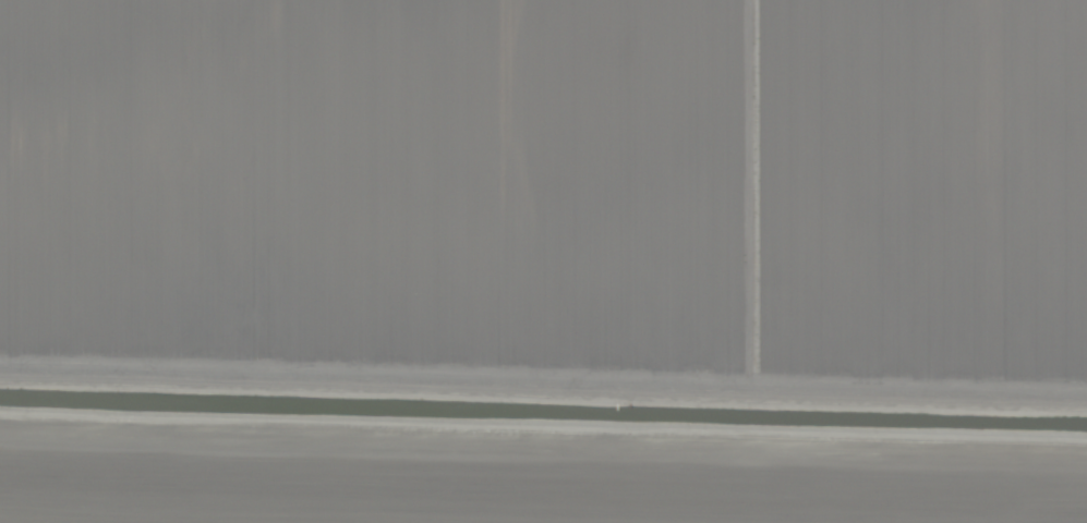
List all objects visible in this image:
crop: (543, 261)

